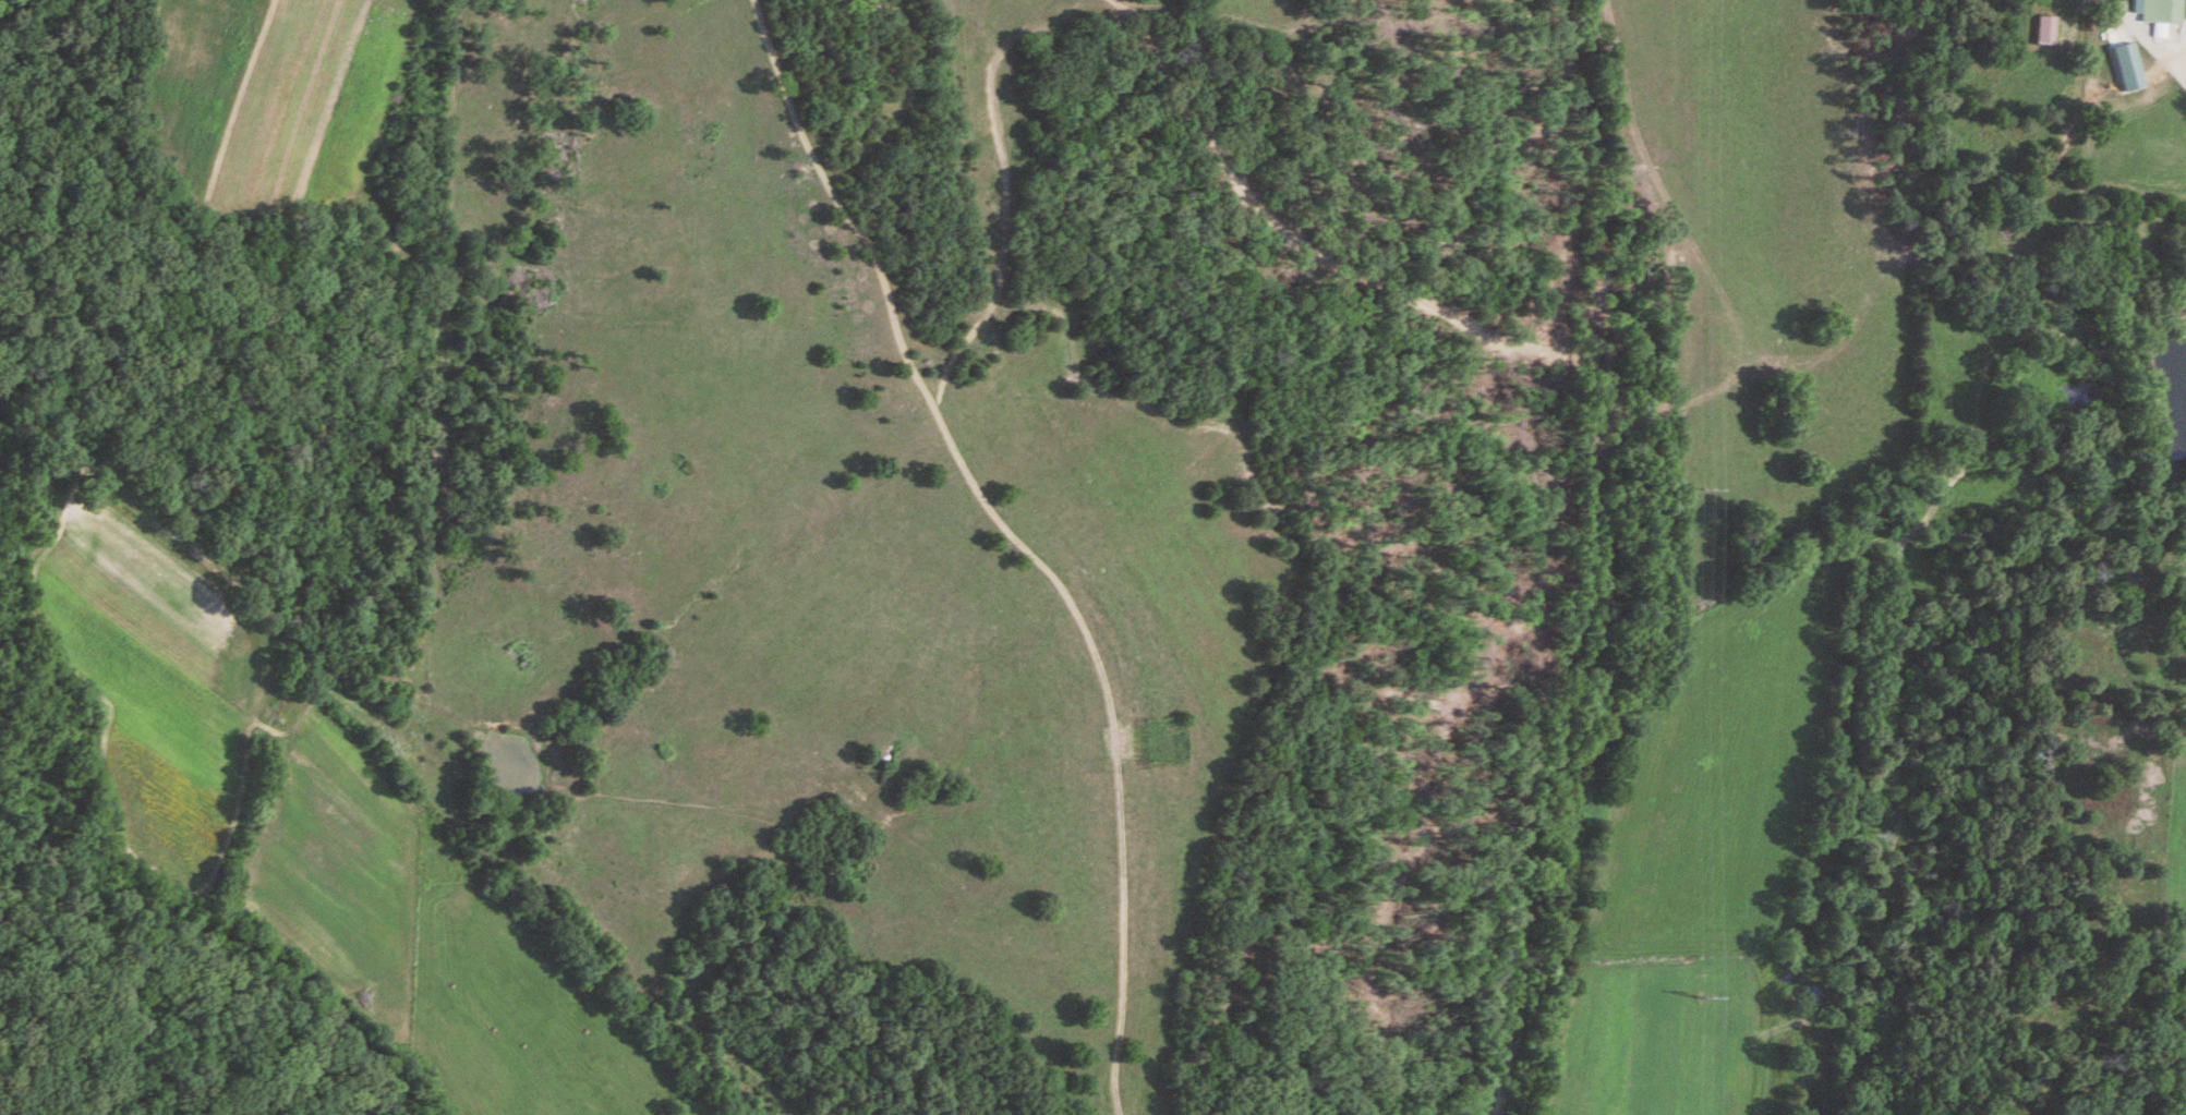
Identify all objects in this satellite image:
building: (2161, 14)
road: (2149, 47)
power tower: (1704, 495)
power tower: (1707, 997)

